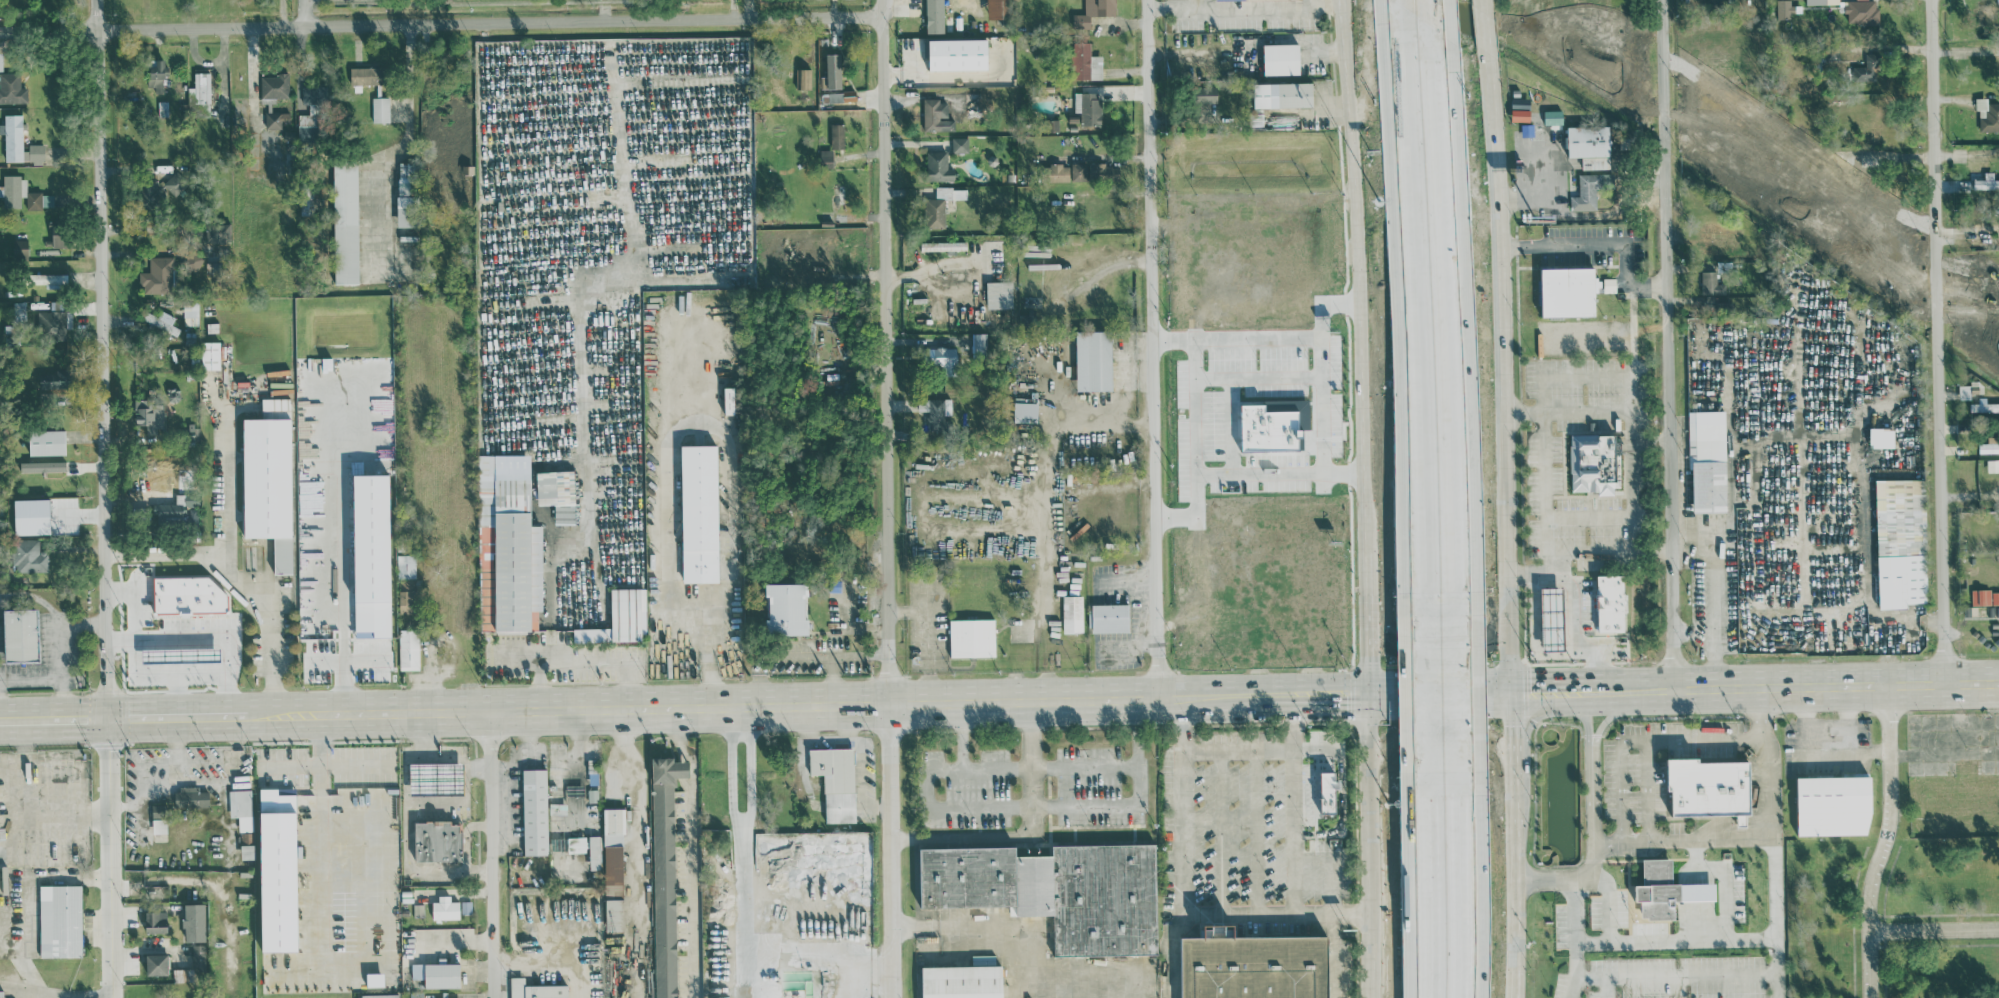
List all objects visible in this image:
building: (1822, 1)
road: (1312, 3)
road: (1402, 3)
building: (1998, 3)
road: (1244, 6)
road: (1484, 6)
building: (997, 8)
building: (1785, 8)
building: (1093, 11)
road: (1425, 11)
building: (1861, 11)
road: (306, 12)
building: (1987, 12)
building: (1577, 15)
building: (934, 16)
road: (445, 22)
road: (1486, 32)
building: (957, 53)
building: (1281, 58)
building: (1, 60)
building: (1085, 61)
building: (1868, 68)
building: (832, 71)
river: (1553, 72)
building: (156, 74)
building: (365, 75)
building: (803, 77)
building: (274, 85)
building: (12, 88)
building: (309, 93)
building: (1206, 94)
building: (1283, 94)
building: (199, 95)
building: (835, 96)
building: (1088, 107)
building: (380, 108)
building: (1987, 113)
building: (940, 114)
building: (1521, 114)
building: (1553, 116)
building: (276, 119)
building: (1051, 125)
building: (306, 126)
building: (836, 135)
building: (12, 136)
building: (959, 144)
building: (1590, 145)
building: (34, 152)
river: (1670, 154)
building: (826, 157)
road: (1110, 157)
building: (1806, 160)
building: (938, 166)
building: (1862, 167)
building: (1091, 171)
building: (1055, 172)
building: (1986, 181)
building: (176, 184)
building: (150, 188)
building: (1589, 190)
building: (23, 193)
building: (405, 197)
building: (941, 204)
building: (1888, 215)
building: (345, 222)
road: (155, 229)
road: (1209, 229)
building: (218, 232)
building: (59, 235)
road: (1352, 238)
building: (1871, 243)
building: (942, 245)
road: (1601, 245)
river: (1804, 246)
building: (19, 248)
building: (1890, 250)
road: (667, 273)
building: (954, 273)
road: (1105, 274)
building: (157, 275)
building: (49, 279)
building: (1711, 283)
building: (1609, 284)
building: (1985, 288)
building: (1568, 291)
building: (999, 294)
building: (19, 311)
building: (190, 313)
road: (1417, 319)
building: (53, 320)
building: (161, 321)
building: (1995, 325)
road: (1443, 327)
river: (1935, 338)
road: (1937, 339)
road: (1294, 342)
road: (1667, 342)
building: (978, 343)
road: (1155, 347)
building: (210, 355)
building: (943, 358)
building: (1093, 360)
river: (1972, 364)
road: (1502, 369)
building: (53, 380)
road: (584, 380)
road: (1542, 380)
road: (1262, 382)
building: (1968, 389)
road: (1054, 406)
building: (1985, 406)
building: (935, 409)
building: (1025, 409)
road: (1325, 409)
road: (1587, 411)
building: (149, 415)
road: (891, 419)
road: (700, 421)
road: (1233, 430)
building: (192, 431)
road: (1200, 432)
building: (1881, 437)
building: (46, 442)
building: (1989, 446)
building: (1708, 461)
building: (1594, 462)
building: (1993, 465)
building: (42, 466)
road: (1048, 470)
road: (1282, 476)
building: (269, 479)
road: (225, 493)
building: (557, 493)
road: (104, 499)
building: (175, 508)
road: (1367, 512)
building: (699, 513)
road: (1627, 516)
building: (192, 518)
road: (1632, 533)
building: (1900, 542)
building: (513, 548)
road: (1607, 551)
building: (29, 556)
road: (326, 556)
road: (1278, 561)
building: (406, 566)
road: (1534, 571)
road: (238, 580)
road: (1714, 586)
building: (188, 595)
building: (406, 595)
building: (1981, 596)
road: (138, 603)
building: (1611, 604)
road: (1535, 607)
building: (787, 608)
building: (1072, 613)
building: (1110, 617)
building: (620, 618)
building: (1553, 618)
gas station: (1553, 618)
road: (1366, 619)
road: (1575, 630)
building: (20, 634)
building: (972, 637)
road: (203, 643)
building: (408, 649)
road: (843, 653)
road: (1432, 654)
road: (709, 660)
road: (172, 678)
road: (1807, 682)
road: (1573, 687)
road: (1600, 687)
traffic signals: (1510, 688)
traffic signals: (1365, 691)
road: (178, 695)
road: (916, 696)
road: (1464, 705)
road: (1416, 706)
road: (259, 711)
road: (176, 713)
traffic signals: (107, 714)
road: (53, 715)
road: (1586, 716)
road: (1610, 717)
road: (1441, 732)
road: (1825, 734)
road: (1639, 738)
road: (1511, 740)
road: (1974, 751)
road: (1853, 754)
road: (964, 768)
road: (1122, 768)
road: (318, 770)
building: (436, 778)
road: (749, 780)
building: (835, 781)
building: (1710, 787)
road: (1650, 790)
building: (1328, 791)
building: (190, 797)
road: (641, 800)
road: (1339, 800)
road: (1294, 802)
building: (1834, 805)
road: (1014, 807)
building: (241, 808)
building: (534, 811)
road: (1513, 813)
road: (1594, 817)
building: (158, 818)
road: (1037, 834)
road: (688, 836)
building: (436, 840)
road: (1884, 840)
road: (1679, 841)
road: (1766, 841)
building: (576, 844)
road: (1368, 844)
building: (594, 845)
road: (1186, 846)
road: (739, 847)
building: (247, 851)
road: (493, 852)
road: (319, 859)
building: (613, 869)
building: (278, 871)
building: (664, 873)
building: (967, 877)
building: (1034, 885)
road: (1467, 888)
road: (1422, 889)
building: (1666, 890)
building: (1104, 899)
building: (445, 909)
road: (1573, 909)
road: (1275, 914)
road: (1515, 915)
road: (900, 918)
building: (60, 921)
building: (155, 921)
building: (193, 922)
road: (16, 927)
road: (1934, 928)
road: (1686, 933)
road: (1675, 939)
road: (1032, 955)
building: (198, 957)
road: (19, 959)
road: (546, 961)
building: (157, 964)
building: (1253, 965)
road: (1680, 973)
building: (437, 974)
building: (181, 975)
road: (1592, 975)
building: (271, 978)
building: (962, 981)
building: (535, 989)
building: (1, 994)
road: (56, 995)
building: (380, 995)

